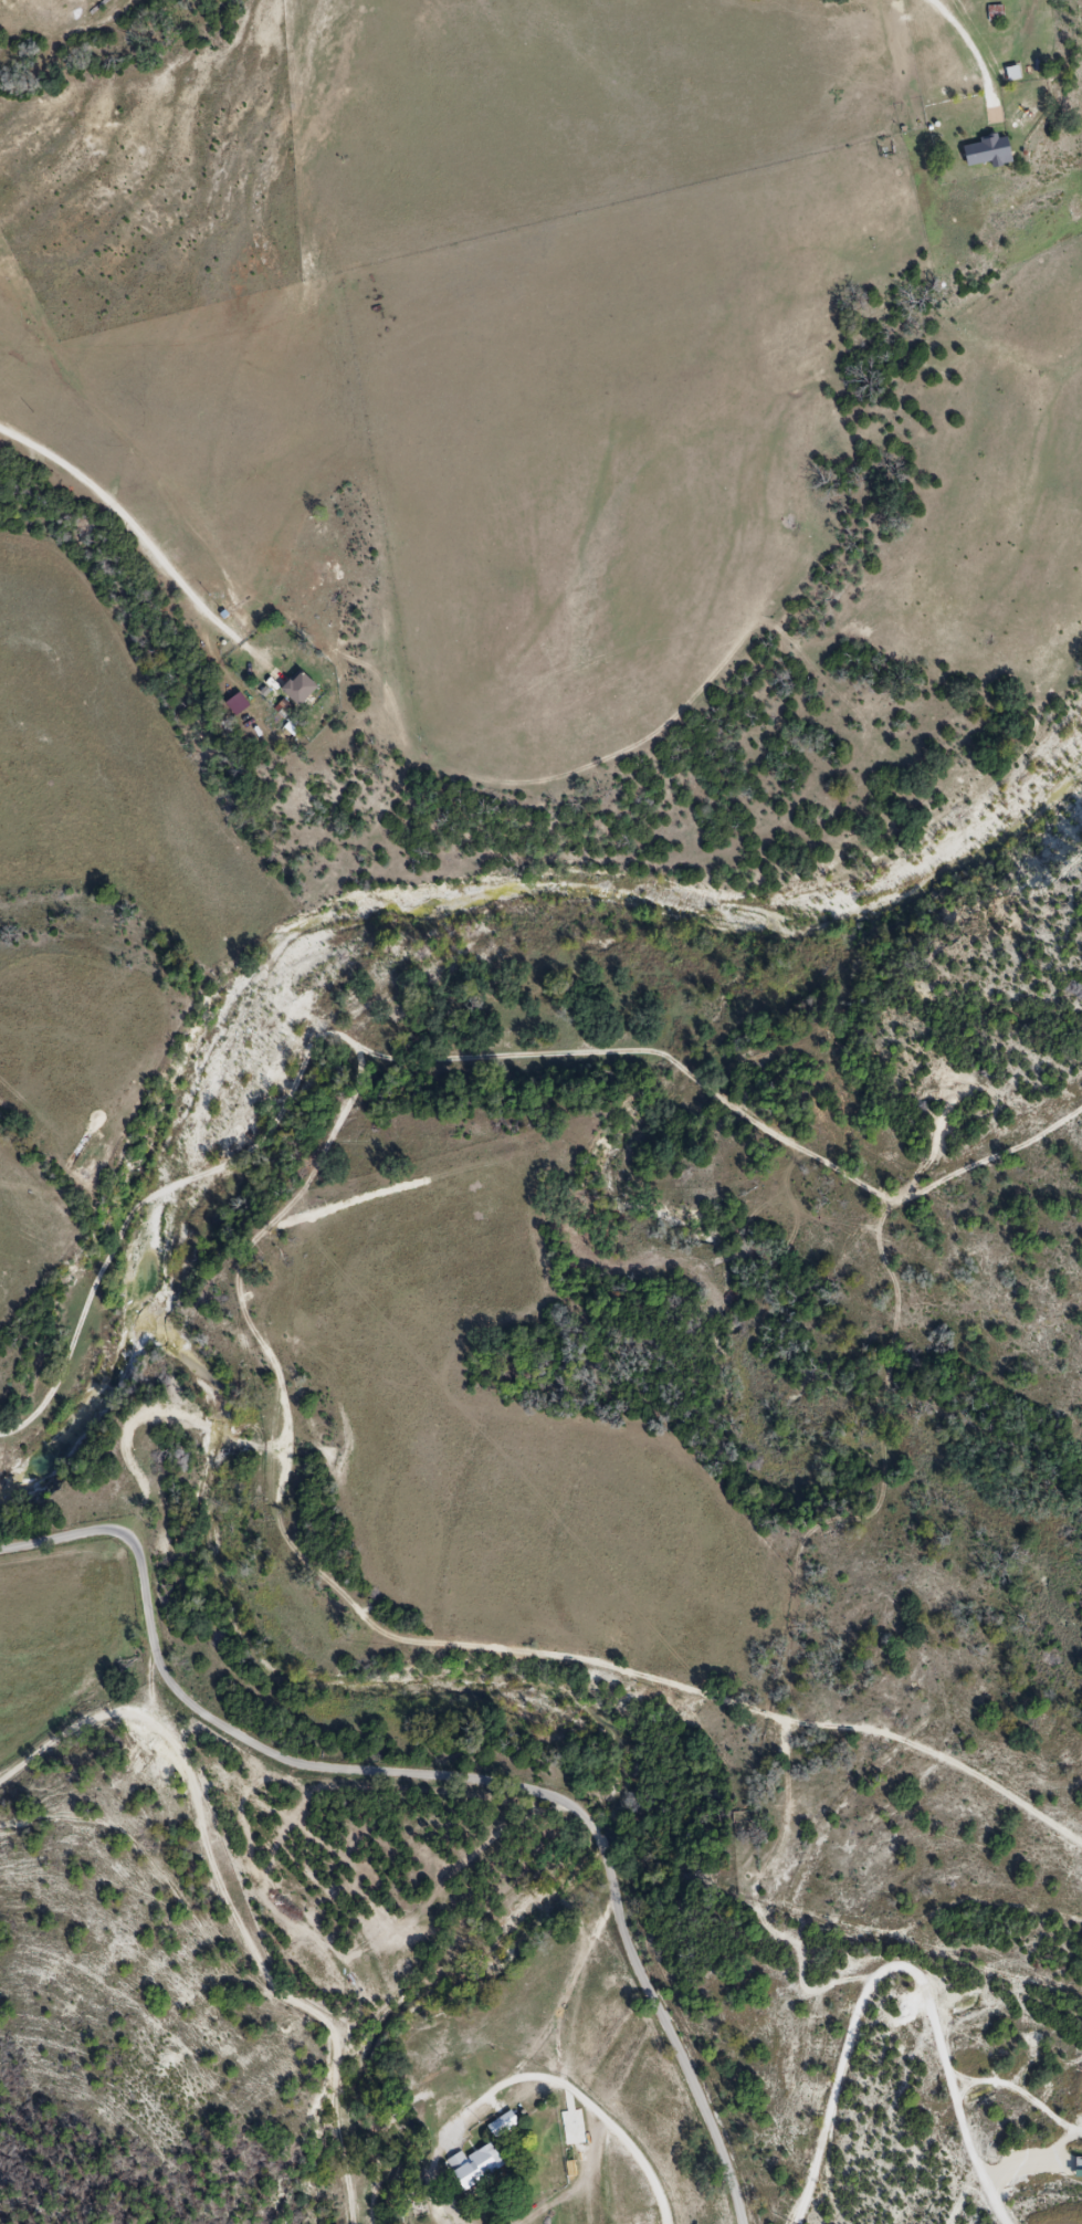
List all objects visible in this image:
building: (996, 13)
road: (965, 42)
building: (1027, 116)
building: (983, 153)
building: (300, 690)
road: (244, 1742)
road: (599, 1850)
road: (894, 1963)
road: (673, 2044)
road: (976, 2077)
road: (526, 2078)
road: (1032, 2096)
building: (503, 2125)
road: (639, 2150)
road: (1036, 2160)
building: (475, 2167)

